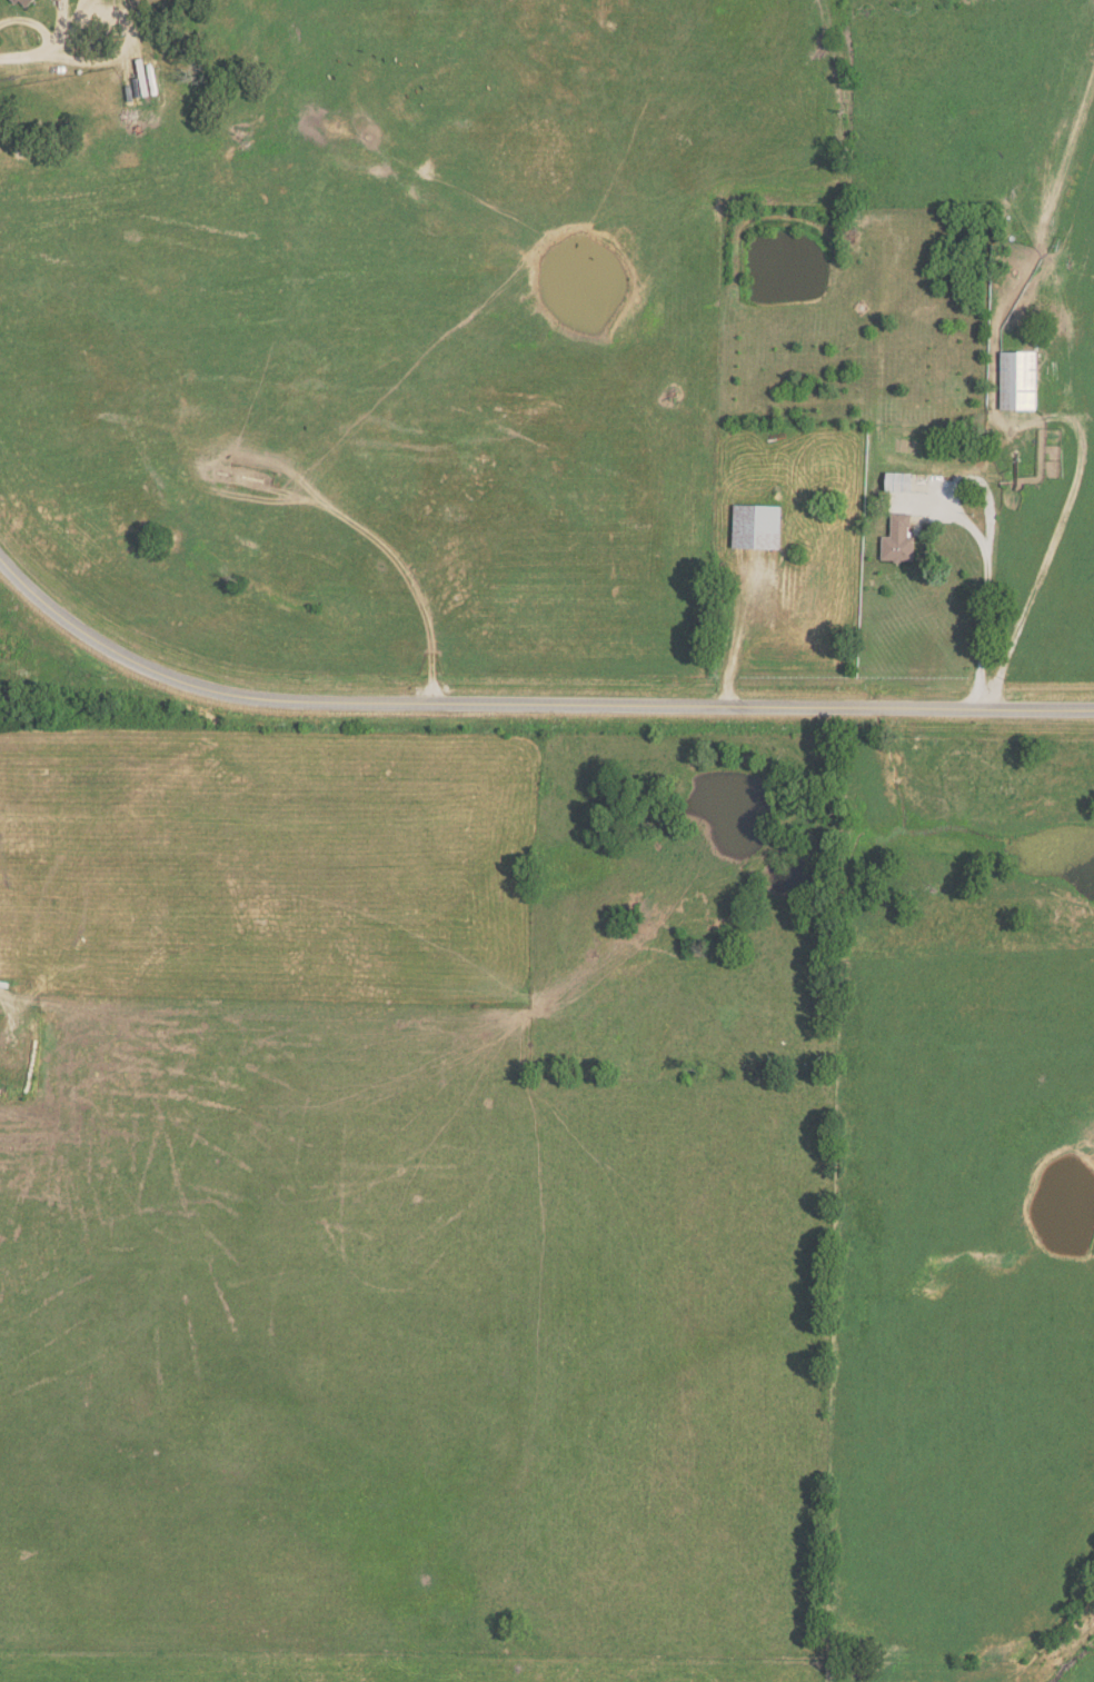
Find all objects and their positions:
building: (28, 3)
road: (43, 40)
building: (1018, 381)
building: (899, 484)
road: (986, 490)
building: (757, 527)
building: (902, 540)
road: (734, 637)
road: (984, 638)
road: (524, 709)

